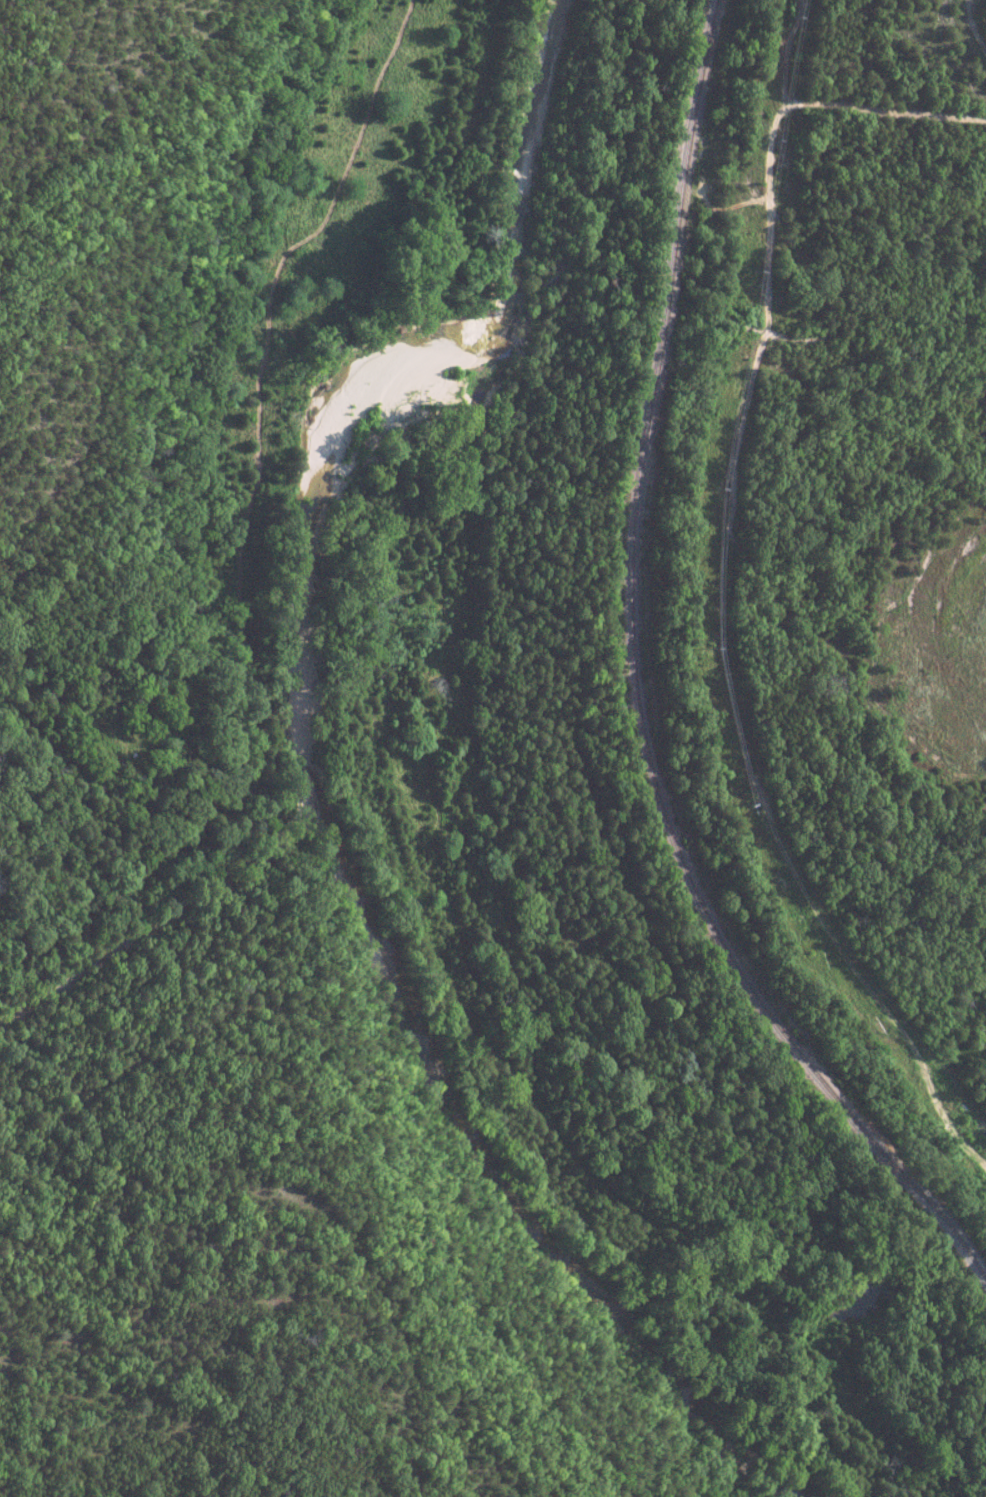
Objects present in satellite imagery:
railway: (639, 691)

